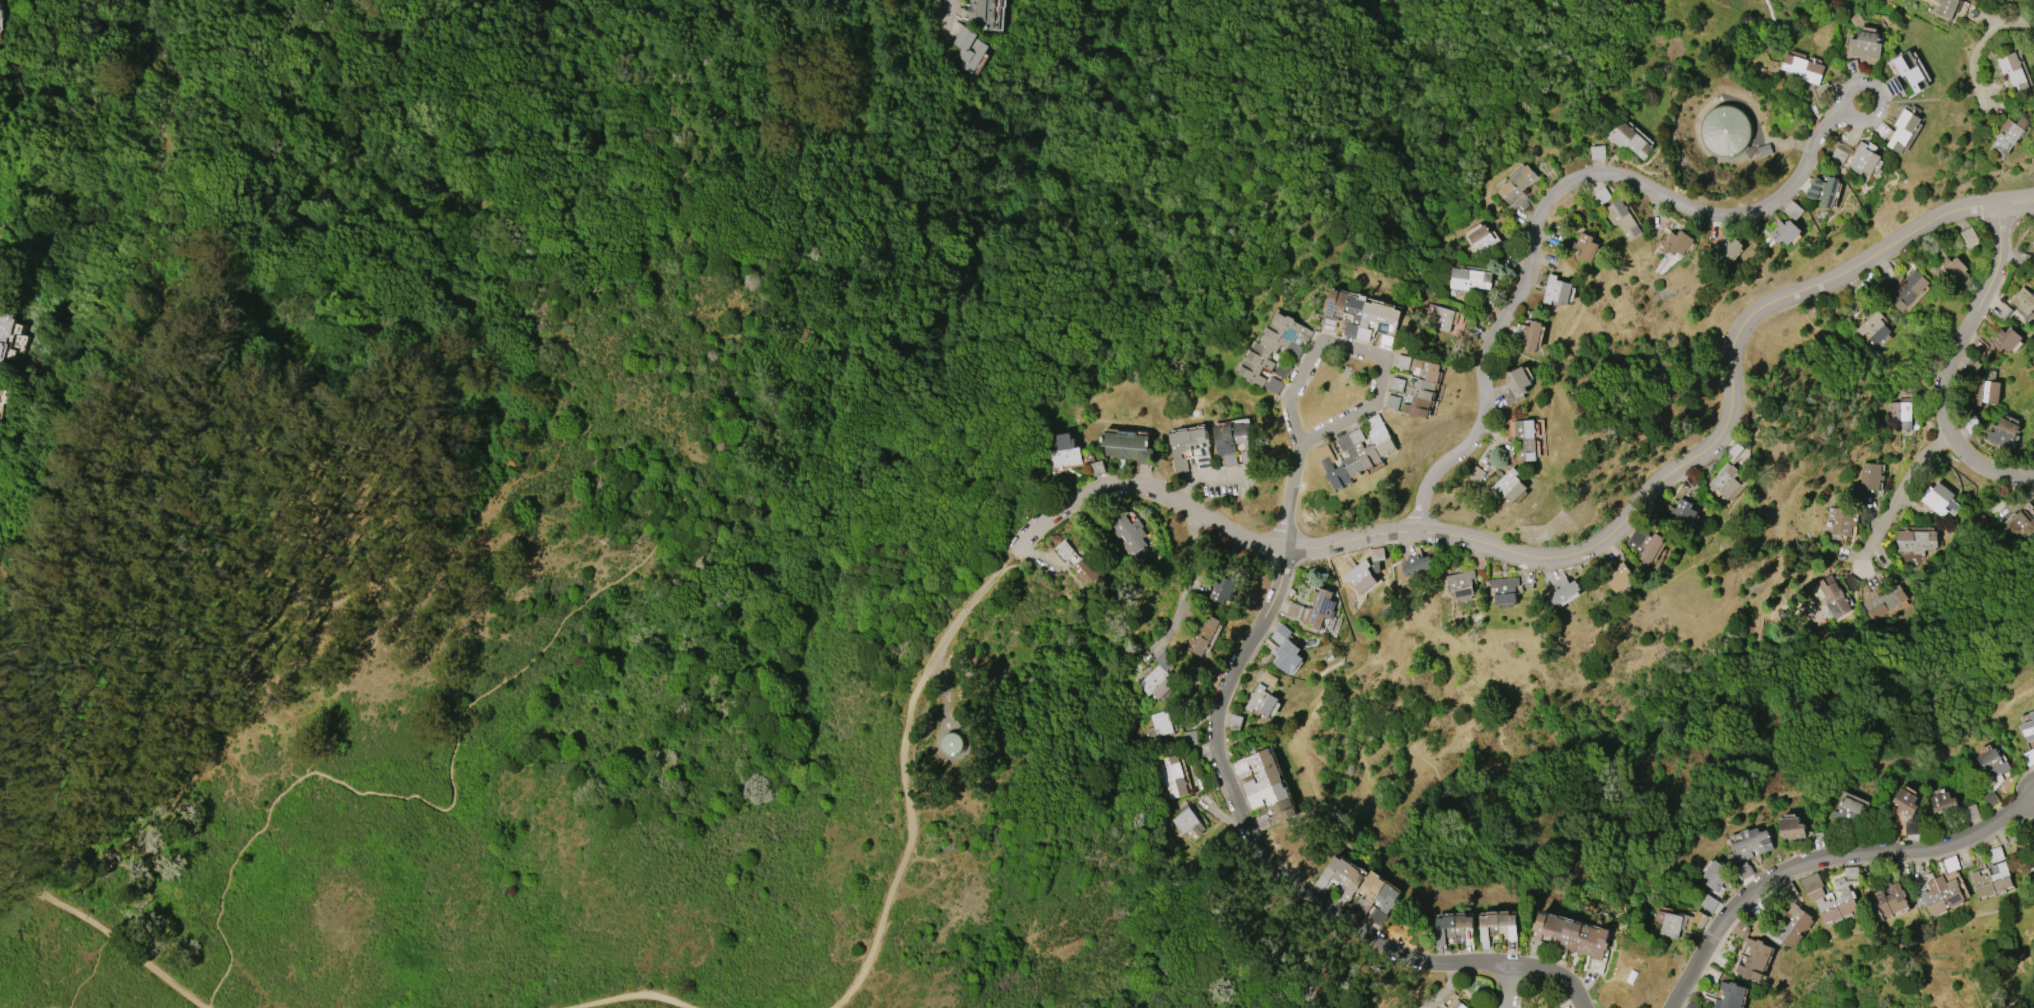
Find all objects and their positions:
road: (949, 4)
building: (1945, 8)
building: (982, 12)
building: (0, 15)
road: (1984, 41)
building: (1864, 45)
building: (968, 49)
building: (1803, 68)
building: (1910, 71)
building: (2013, 72)
building: (1820, 92)
building: (1723, 129)
building: (1903, 130)
building: (2008, 135)
building: (1631, 140)
building: (1597, 152)
building: (1862, 160)
building: (1516, 185)
building: (1823, 190)
building: (1600, 194)
road: (1545, 204)
building: (1622, 219)
building: (1784, 232)
building: (1969, 237)
building: (1482, 241)
building: (1677, 243)
building: (2033, 243)
building: (1585, 247)
building: (1731, 250)
building: (2033, 251)
building: (2, 256)
building: (1951, 271)
building: (1469, 279)
building: (1556, 290)
building: (1908, 290)
building: (2023, 302)
building: (1359, 317)
building: (1440, 317)
building: (1873, 328)
building: (4, 331)
building: (1531, 336)
building: (2006, 340)
building: (1274, 346)
road: (1362, 353)
building: (1402, 362)
road: (1949, 363)
building: (1517, 381)
building: (1396, 384)
building: (1421, 389)
building: (1984, 391)
building: (1392, 402)
building: (1900, 413)
building: (2003, 433)
building: (1524, 439)
building: (1233, 443)
building: (1127, 446)
building: (1189, 448)
building: (1064, 451)
building: (1356, 452)
building: (1870, 476)
building: (1724, 482)
building: (1509, 485)
road: (1903, 485)
road: (1283, 492)
building: (1937, 498)
building: (1684, 516)
building: (1842, 522)
building: (2019, 525)
building: (1131, 535)
road: (667, 539)
building: (1914, 541)
building: (1644, 544)
road: (1580, 549)
building: (1415, 565)
building: (1092, 574)
building: (1360, 577)
building: (1619, 577)
building: (1461, 583)
building: (1504, 589)
building: (1226, 591)
building: (1564, 591)
building: (1833, 597)
building: (1883, 602)
building: (1313, 609)
building: (1203, 635)
building: (1287, 656)
building: (1158, 676)
building: (1261, 701)
building: (1234, 722)
building: (1159, 724)
building: (2027, 728)
building: (950, 744)
building: (1991, 764)
building: (1169, 776)
road: (910, 778)
building: (1266, 788)
building: (1904, 802)
building: (1944, 804)
road: (2009, 809)
building: (1847, 812)
building: (1186, 820)
building: (1910, 827)
building: (1792, 828)
building: (1750, 843)
road: (1794, 864)
road: (1280, 867)
building: (2030, 870)
building: (1346, 875)
building: (1716, 875)
building: (1991, 881)
building: (1376, 894)
building: (1815, 895)
building: (1940, 895)
building: (1886, 902)
building: (1708, 903)
building: (1668, 924)
building: (1790, 924)
building: (1450, 925)
building: (1497, 926)
building: (1572, 935)
road: (100, 936)
building: (1751, 954)
road: (1508, 987)
road: (1444, 988)
building: (1729, 996)
road: (635, 998)
building: (1459, 1005)

